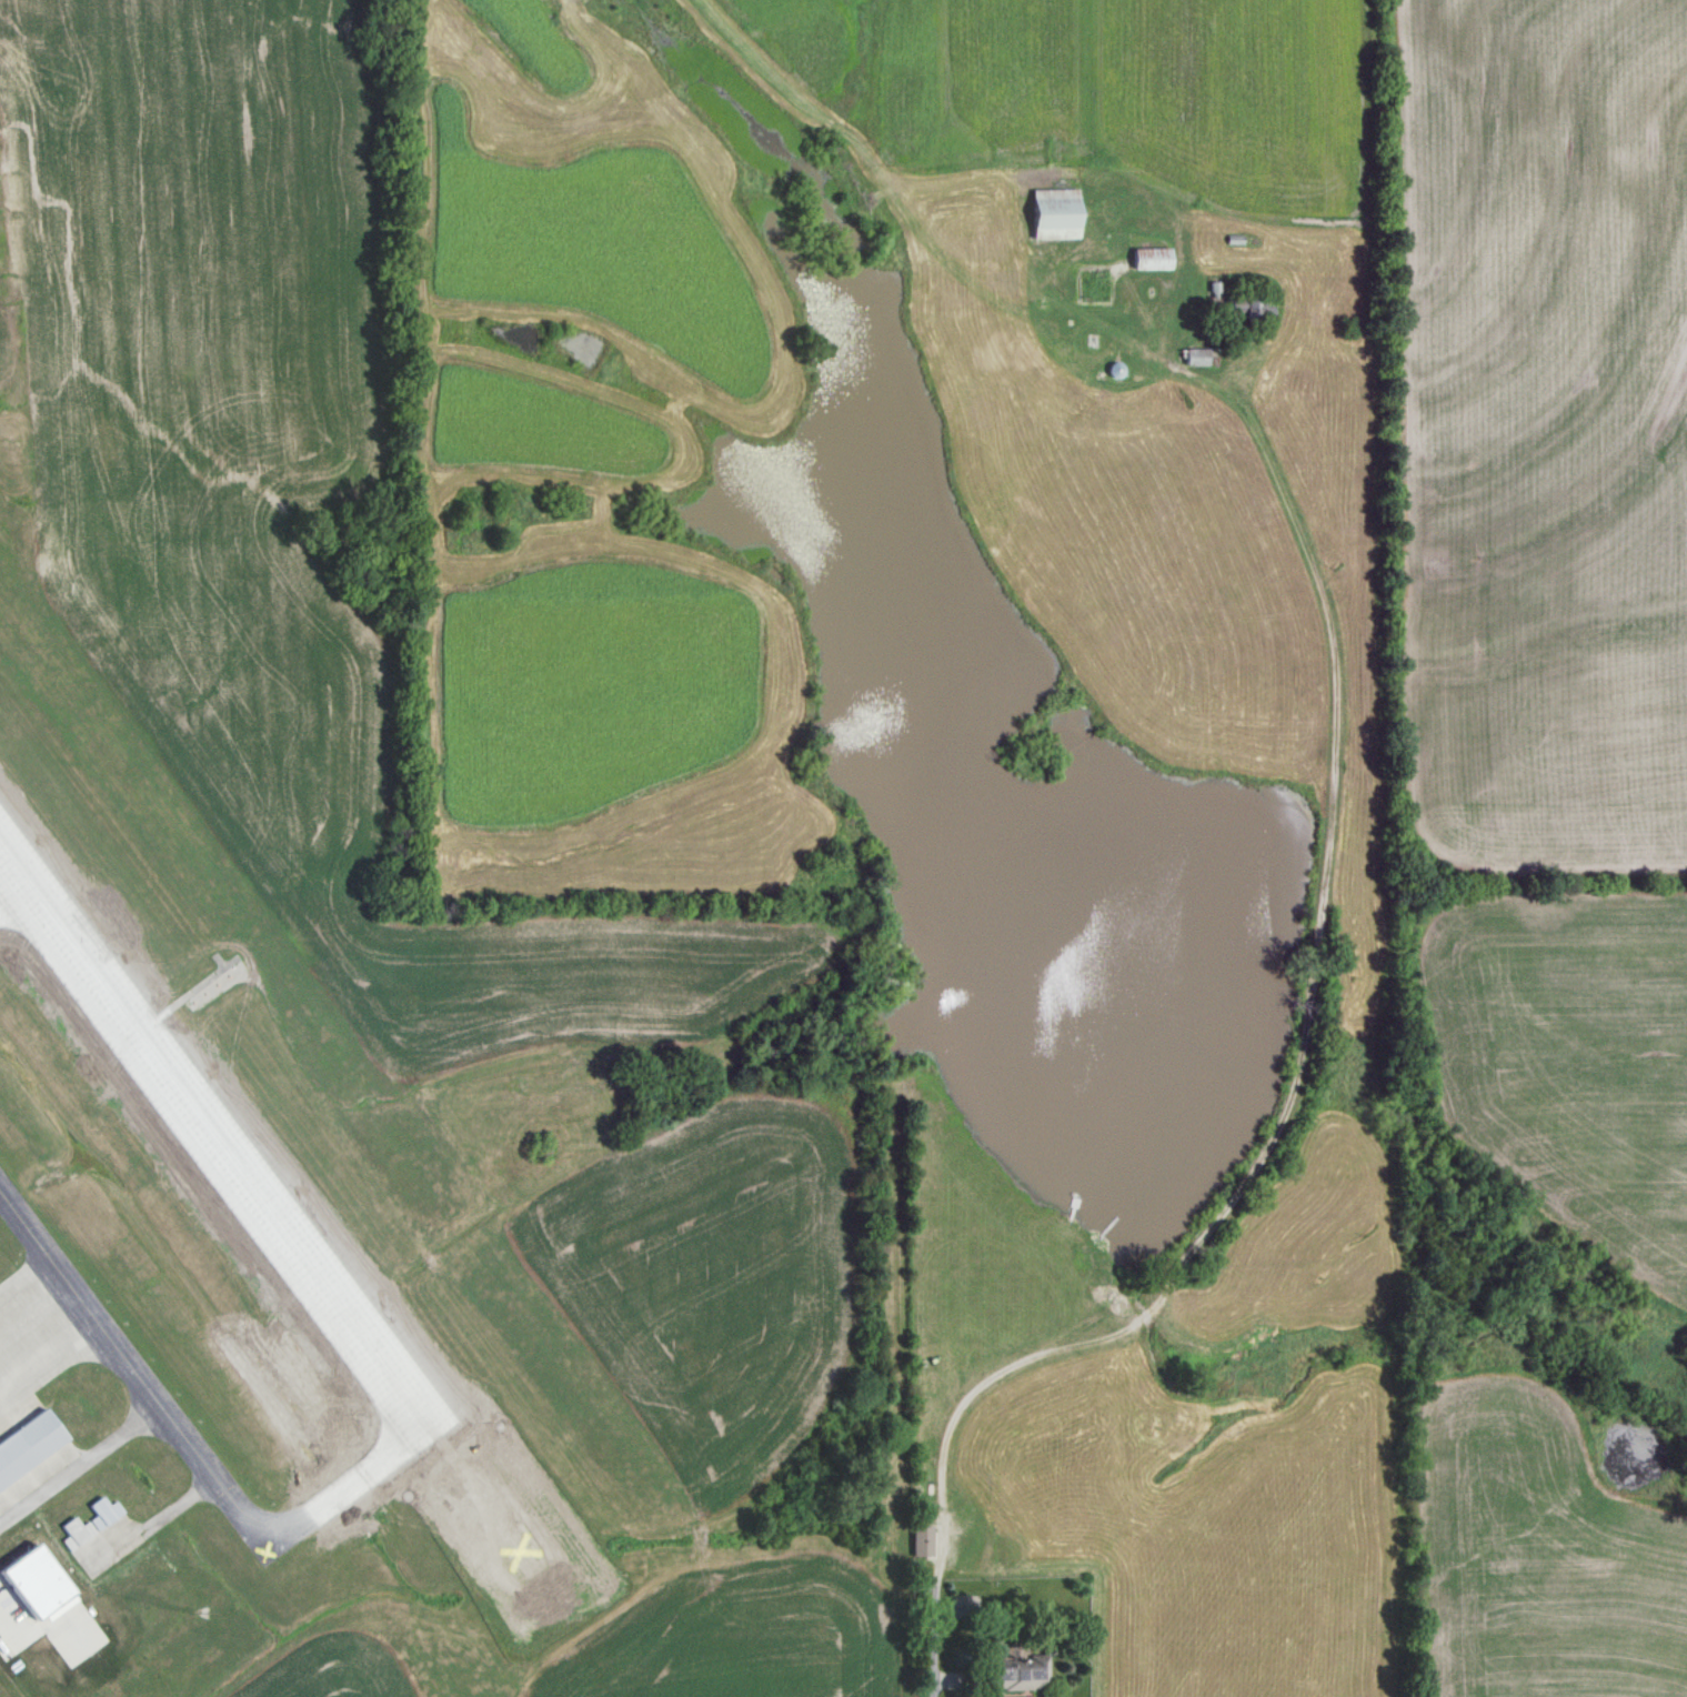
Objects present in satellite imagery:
building: (1055, 212)
building: (1152, 258)
building: (1093, 284)
building: (1252, 307)
building: (1197, 357)
airport taxiway: (11, 893)
road: (1287, 1109)
airport runway: (219, 1146)
airport: (261, 1298)
airport taxiway: (100, 1339)
airport apron: (34, 1343)
building: (26, 1446)
airport taxiway: (190, 1446)
airport taxiway: (82, 1469)
building: (108, 1513)
airport taxiway: (155, 1528)
building: (79, 1537)
building: (921, 1540)
building: (1017, 1673)

